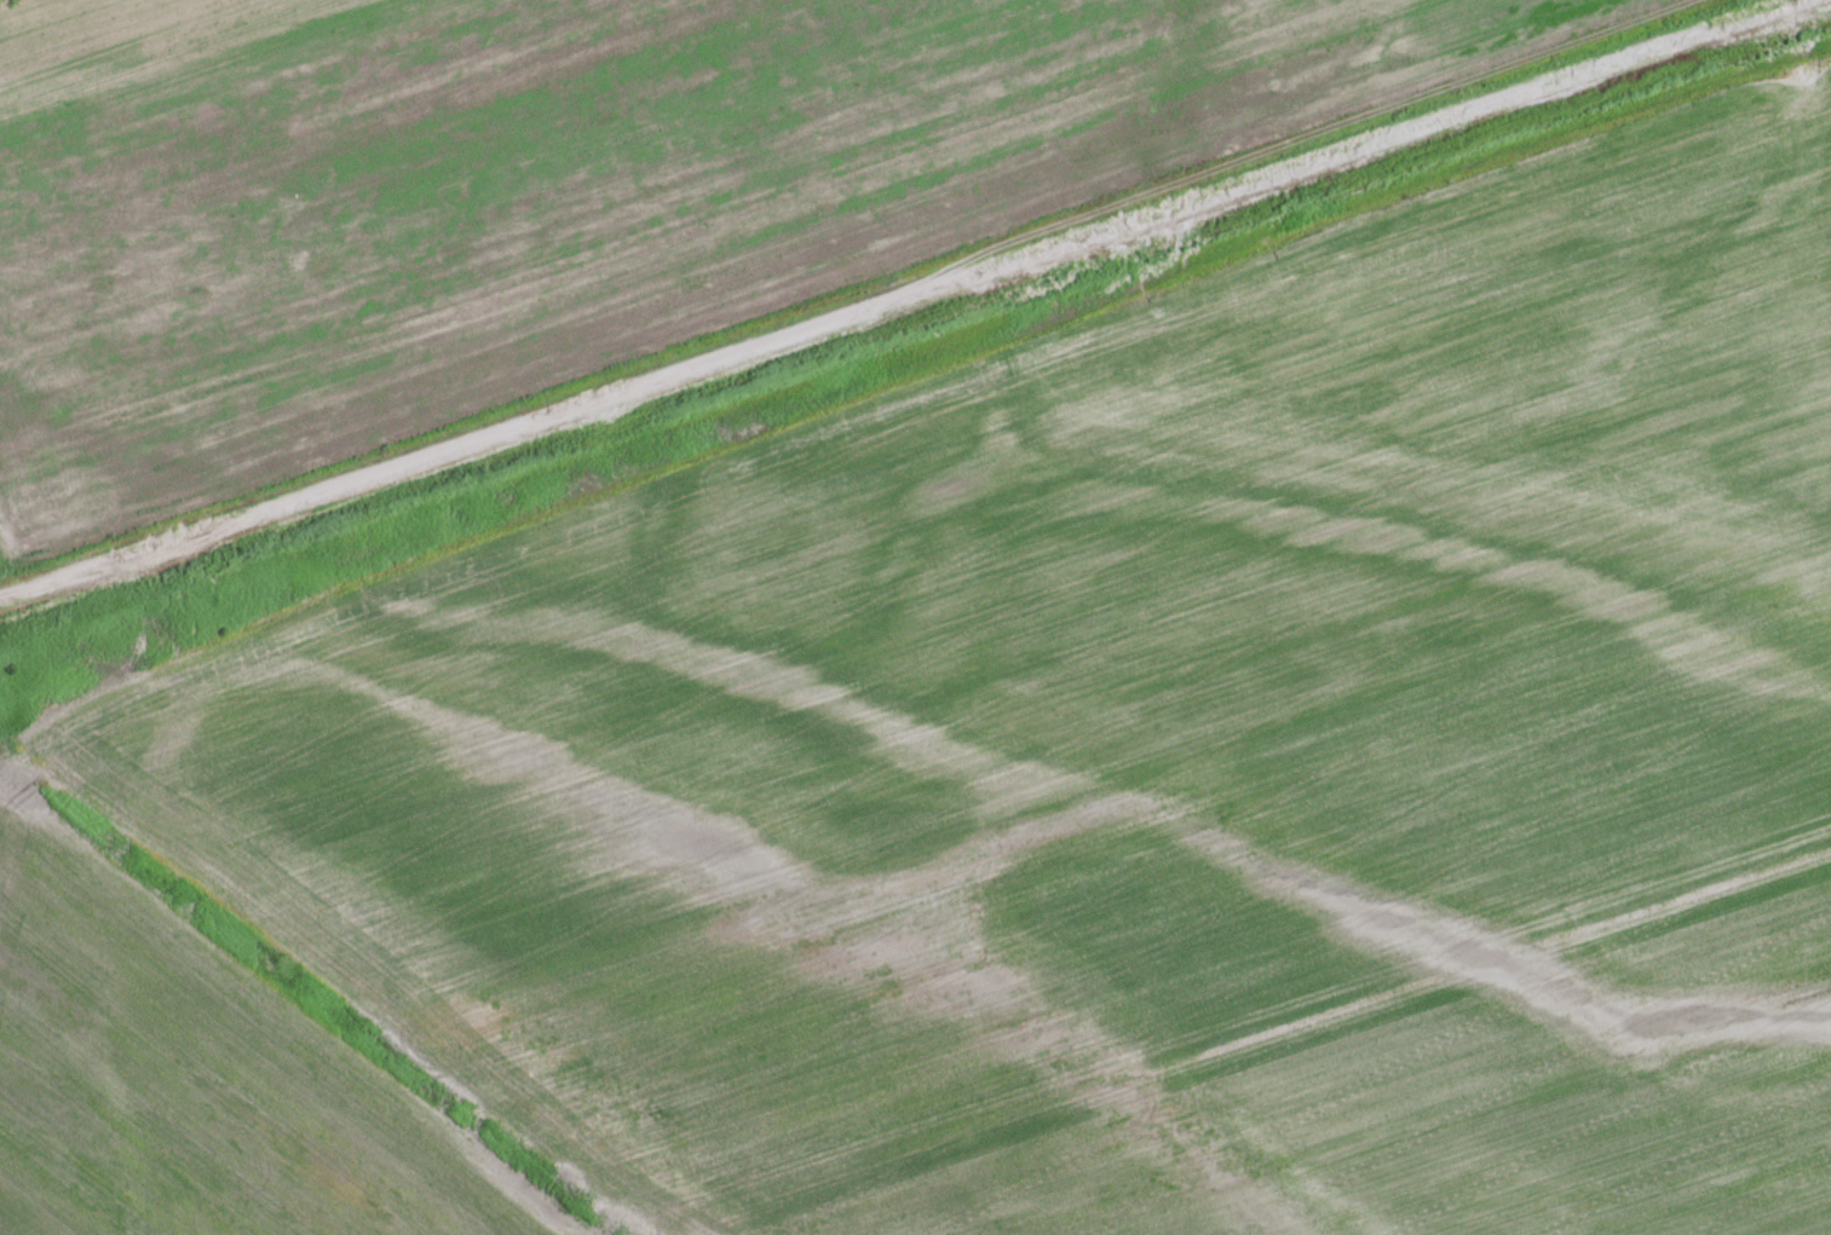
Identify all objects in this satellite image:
road: (894, 299)

